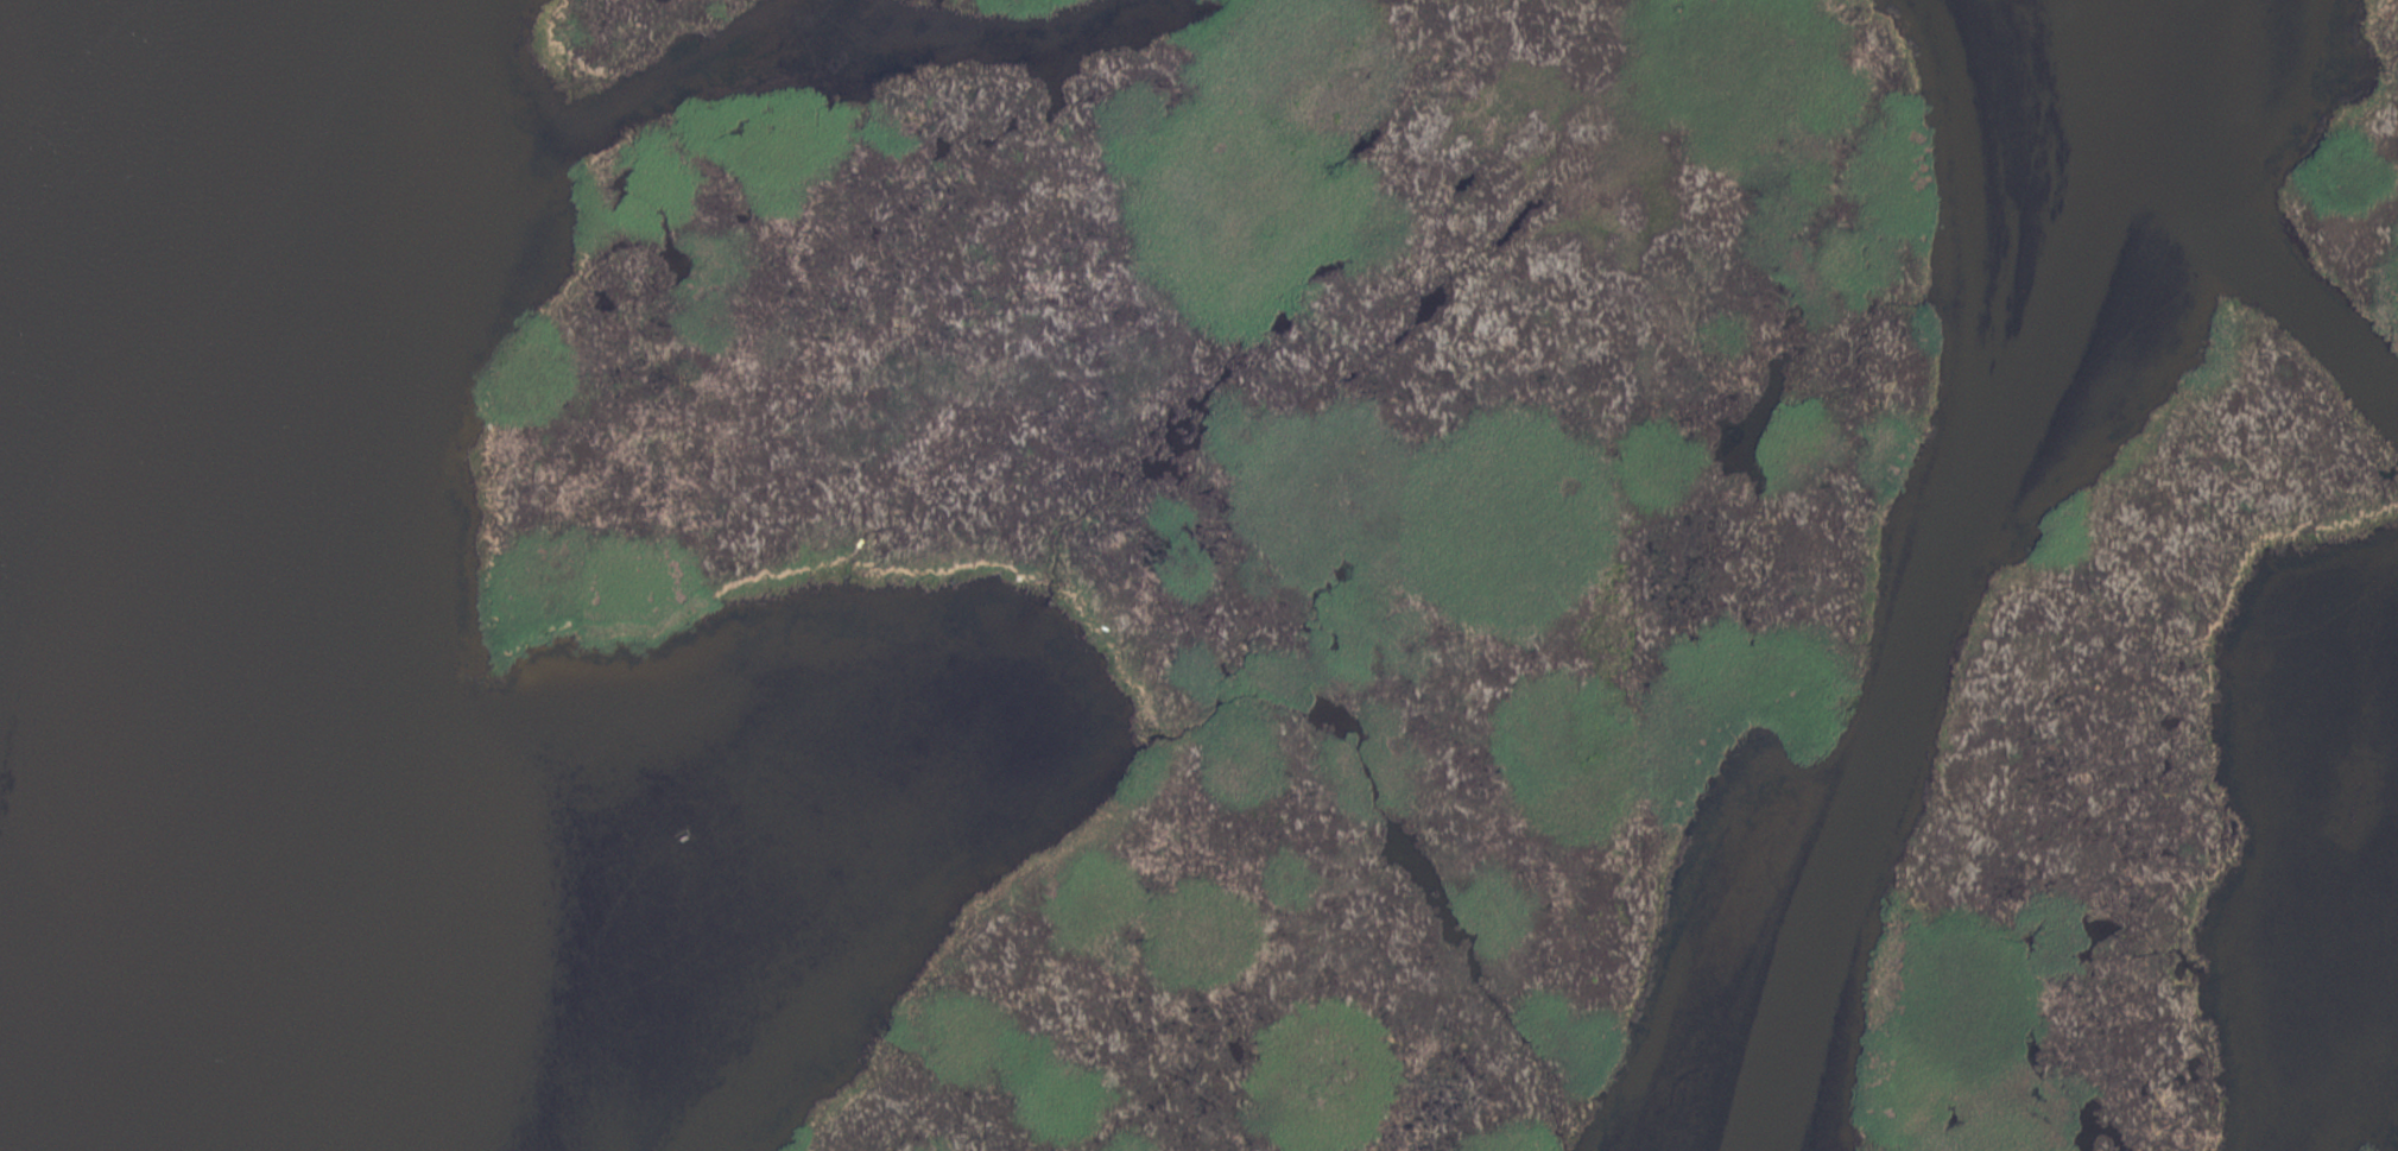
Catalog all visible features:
river: (75, 215)

